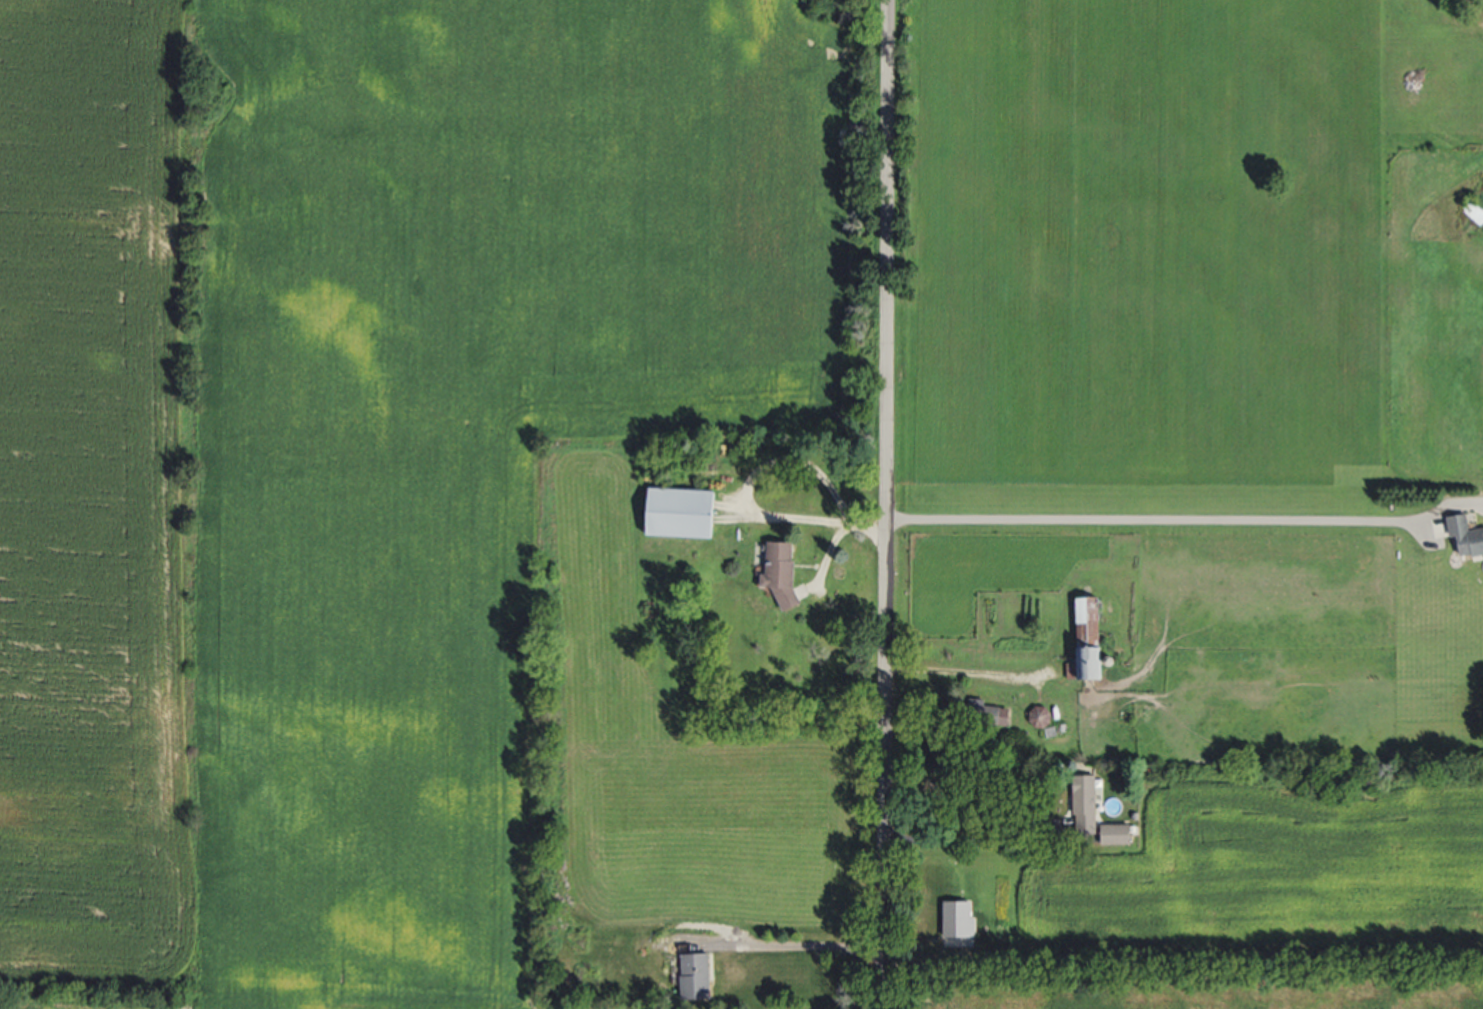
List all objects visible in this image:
building: (1475, 212)
crop: (361, 440)
road: (885, 504)
building: (686, 512)
road: (1153, 516)
building: (1468, 534)
road: (838, 538)
building: (786, 570)
building: (1093, 638)
road: (966, 672)
building: (999, 716)
building: (1089, 808)
building: (1121, 833)
road: (975, 840)
road: (801, 946)
building: (697, 976)

